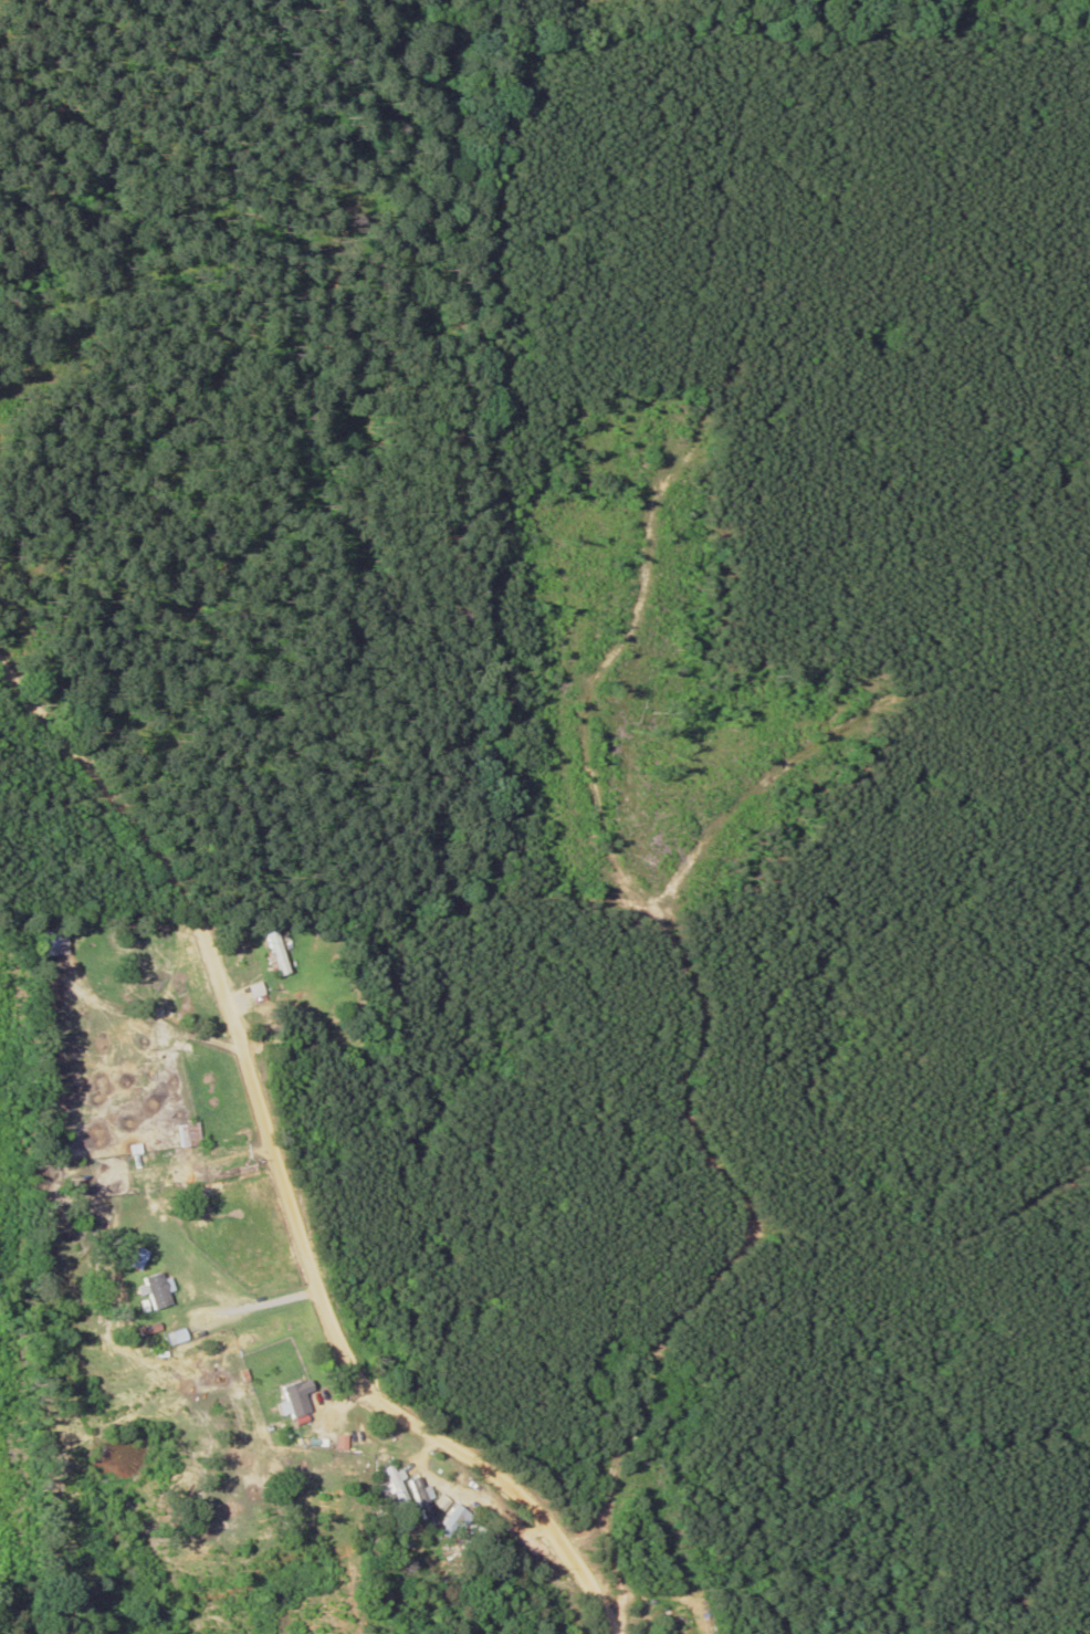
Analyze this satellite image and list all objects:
building: (53, 942)
building: (273, 951)
building: (186, 1134)
road: (283, 1173)
building: (135, 1259)
building: (158, 1290)
building: (291, 1399)
building: (403, 1486)
building: (449, 1502)
building: (462, 1516)

